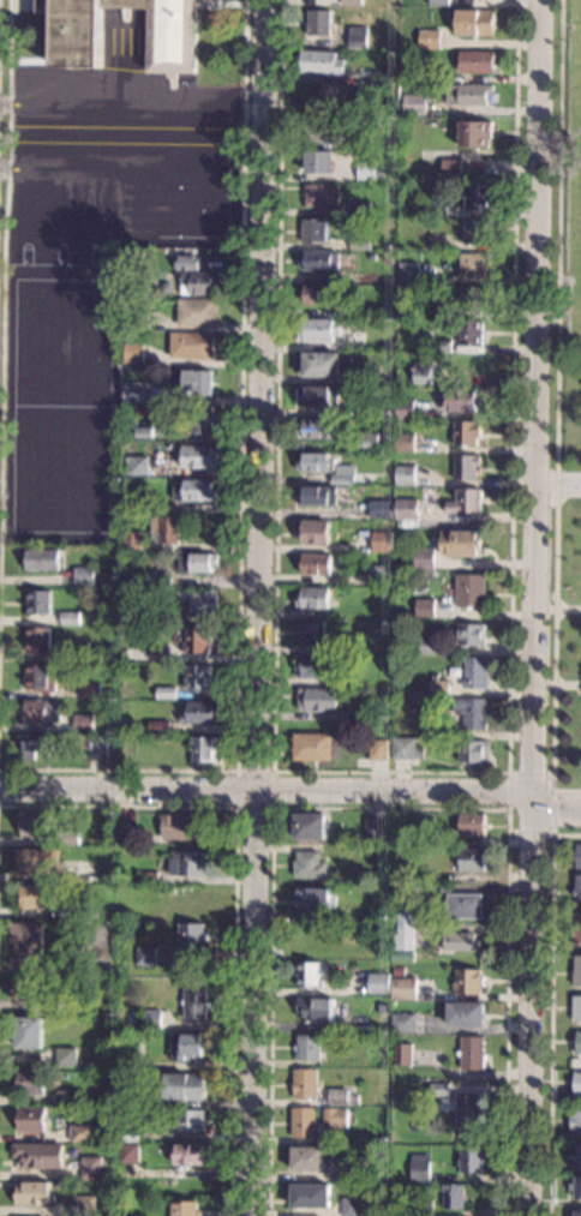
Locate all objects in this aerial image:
building: (351, 2)
building: (439, 2)
building: (318, 23)
building: (474, 23)
building: (357, 37)
building: (172, 40)
building: (429, 40)
building: (477, 61)
building: (322, 62)
building: (425, 76)
building: (467, 94)
building: (414, 104)
building: (321, 130)
building: (474, 134)
building: (354, 139)
building: (22, 155)
building: (319, 162)
building: (450, 167)
building: (369, 172)
building: (322, 196)
building: (478, 198)
building: (359, 206)
building: (433, 208)
park: (568, 218)
building: (315, 230)
building: (477, 232)
building: (359, 242)
building: (430, 246)
road: (2, 251)
park: (55, 253)
building: (357, 253)
building: (132, 258)
building: (319, 259)
building: (186, 263)
building: (475, 264)
building: (408, 272)
building: (197, 283)
building: (166, 288)
building: (316, 293)
building: (447, 293)
building: (473, 299)
building: (349, 311)
building: (196, 312)
building: (139, 323)
building: (317, 330)
building: (471, 331)
building: (370, 341)
building: (191, 345)
building: (443, 346)
building: (133, 353)
building: (321, 364)
building: (421, 372)
building: (369, 375)
building: (197, 382)
building: (133, 391)
building: (316, 395)
building: (460, 399)
building: (366, 407)
road: (557, 408)
building: (405, 409)
building: (200, 419)
building: (319, 429)
building: (142, 432)
building: (467, 432)
building: (367, 442)
building: (405, 442)
building: (198, 456)
building: (317, 462)
building: (136, 465)
building: (466, 465)
building: (343, 474)
building: (405, 474)
road: (557, 478)
building: (387, 480)
building: (194, 491)
building: (316, 496)
road: (568, 496)
building: (466, 502)
road: (239, 504)
building: (136, 508)
building: (381, 509)
building: (406, 513)
building: (163, 529)
building: (315, 532)
building: (131, 541)
building: (381, 541)
building: (461, 544)
building: (424, 558)
building: (41, 559)
building: (197, 562)
building: (316, 564)
building: (379, 575)
building: (83, 576)
building: (157, 579)
building: (471, 591)
building: (449, 592)
building: (313, 598)
building: (199, 600)
building: (37, 601)
road: (254, 607)
building: (425, 607)
road: (532, 607)
road: (568, 610)
building: (157, 616)
building: (68, 618)
building: (311, 634)
building: (471, 634)
building: (36, 639)
building: (196, 640)
building: (352, 643)
building: (429, 646)
building: (78, 651)
building: (161, 654)
building: (310, 666)
building: (475, 672)
building: (198, 677)
building: (38, 678)
building: (335, 682)
road: (570, 685)
building: (439, 687)
building: (92, 690)
building: (166, 693)
building: (317, 700)
building: (361, 711)
building: (41, 712)
building: (473, 712)
building: (200, 713)
building: (83, 723)
building: (158, 726)
building: (437, 726)
building: (124, 737)
building: (37, 744)
building: (95, 744)
building: (312, 747)
building: (408, 748)
building: (204, 749)
building: (378, 749)
building: (474, 753)
road: (391, 773)
road: (514, 774)
road: (264, 792)
road: (391, 808)
road: (555, 808)
building: (472, 823)
building: (35, 825)
building: (310, 826)
building: (178, 827)
building: (373, 828)
building: (122, 831)
road: (552, 834)
building: (67, 838)
building: (109, 840)
building: (445, 843)
building: (579, 856)
building: (471, 859)
building: (38, 862)
building: (190, 863)
building: (309, 864)
building: (84, 871)
building: (409, 874)
building: (149, 876)
building: (444, 888)
building: (577, 889)
road: (235, 893)
building: (37, 895)
building: (312, 897)
building: (192, 900)
building: (463, 905)
building: (88, 910)
building: (143, 912)
building: (406, 928)
building: (577, 930)
building: (309, 934)
building: (191, 936)
building: (459, 941)
building: (28, 945)
building: (379, 945)
building: (145, 956)
building: (576, 971)
building: (399, 972)
building: (307, 974)
building: (467, 981)
building: (378, 983)
building: (23, 987)
building: (403, 989)
building: (194, 999)
building: (70, 1004)
building: (576, 1008)
building: (316, 1010)
building: (383, 1010)
road: (551, 1011)
building: (466, 1013)
building: (150, 1020)
building: (403, 1023)
building: (29, 1032)
building: (579, 1043)
building: (186, 1047)
building: (307, 1047)
building: (472, 1052)
building: (401, 1054)
building: (65, 1056)
building: (30, 1083)
building: (360, 1083)
building: (305, 1084)
building: (577, 1084)
building: (182, 1085)
building: (438, 1089)
building: (66, 1097)
building: (341, 1097)
building: (134, 1098)
building: (467, 1110)
building: (335, 1118)
building: (31, 1119)
building: (187, 1120)
building: (575, 1120)
building: (305, 1122)
building: (80, 1133)
building: (127, 1136)
building: (453, 1137)
building: (383, 1138)
building: (369, 1139)
building: (127, 1152)
building: (40, 1155)
building: (191, 1155)
building: (577, 1156)
building: (307, 1158)
building: (472, 1160)
building: (419, 1167)
building: (90, 1168)
building: (352, 1170)
building: (394, 1185)
building: (576, 1187)
building: (32, 1194)
building: (310, 1196)
building: (453, 1196)
building: (84, 1206)
building: (352, 1206)
building: (423, 1208)
building: (185, 1209)
building: (577, 1212)

